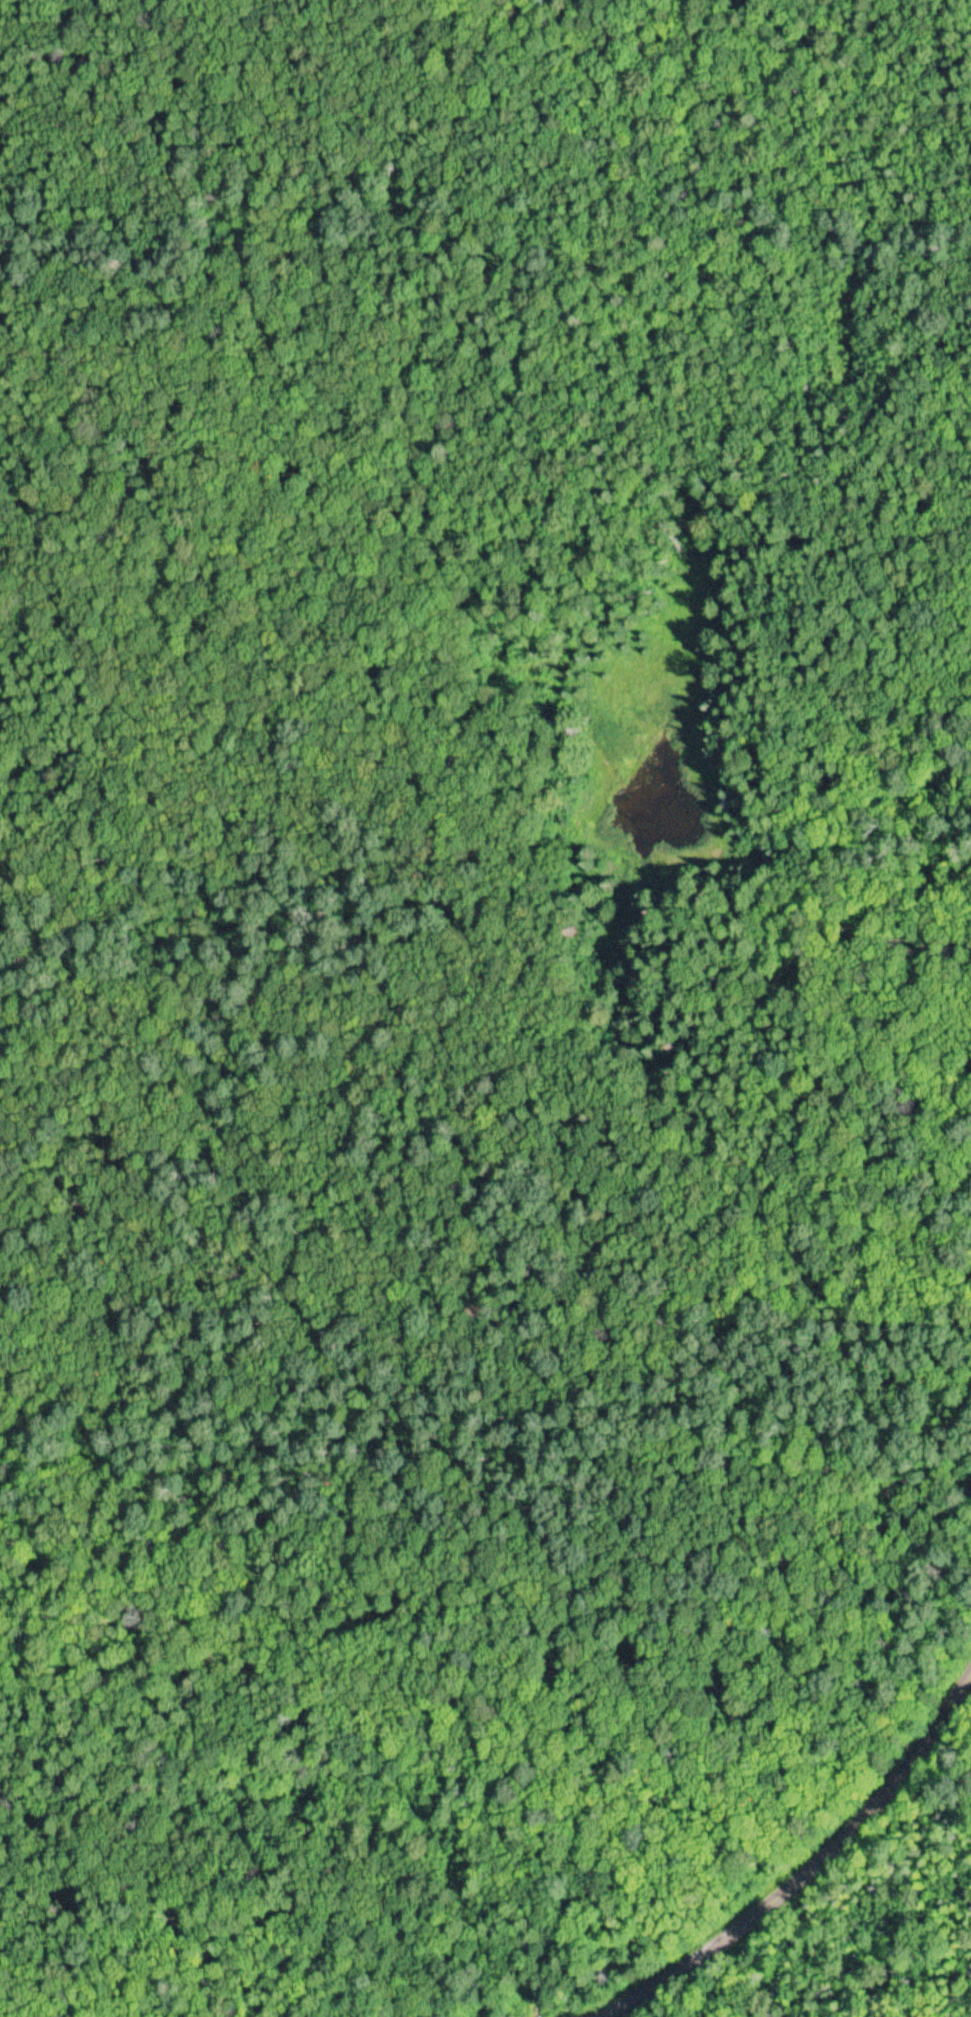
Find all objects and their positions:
road: (806, 1856)

